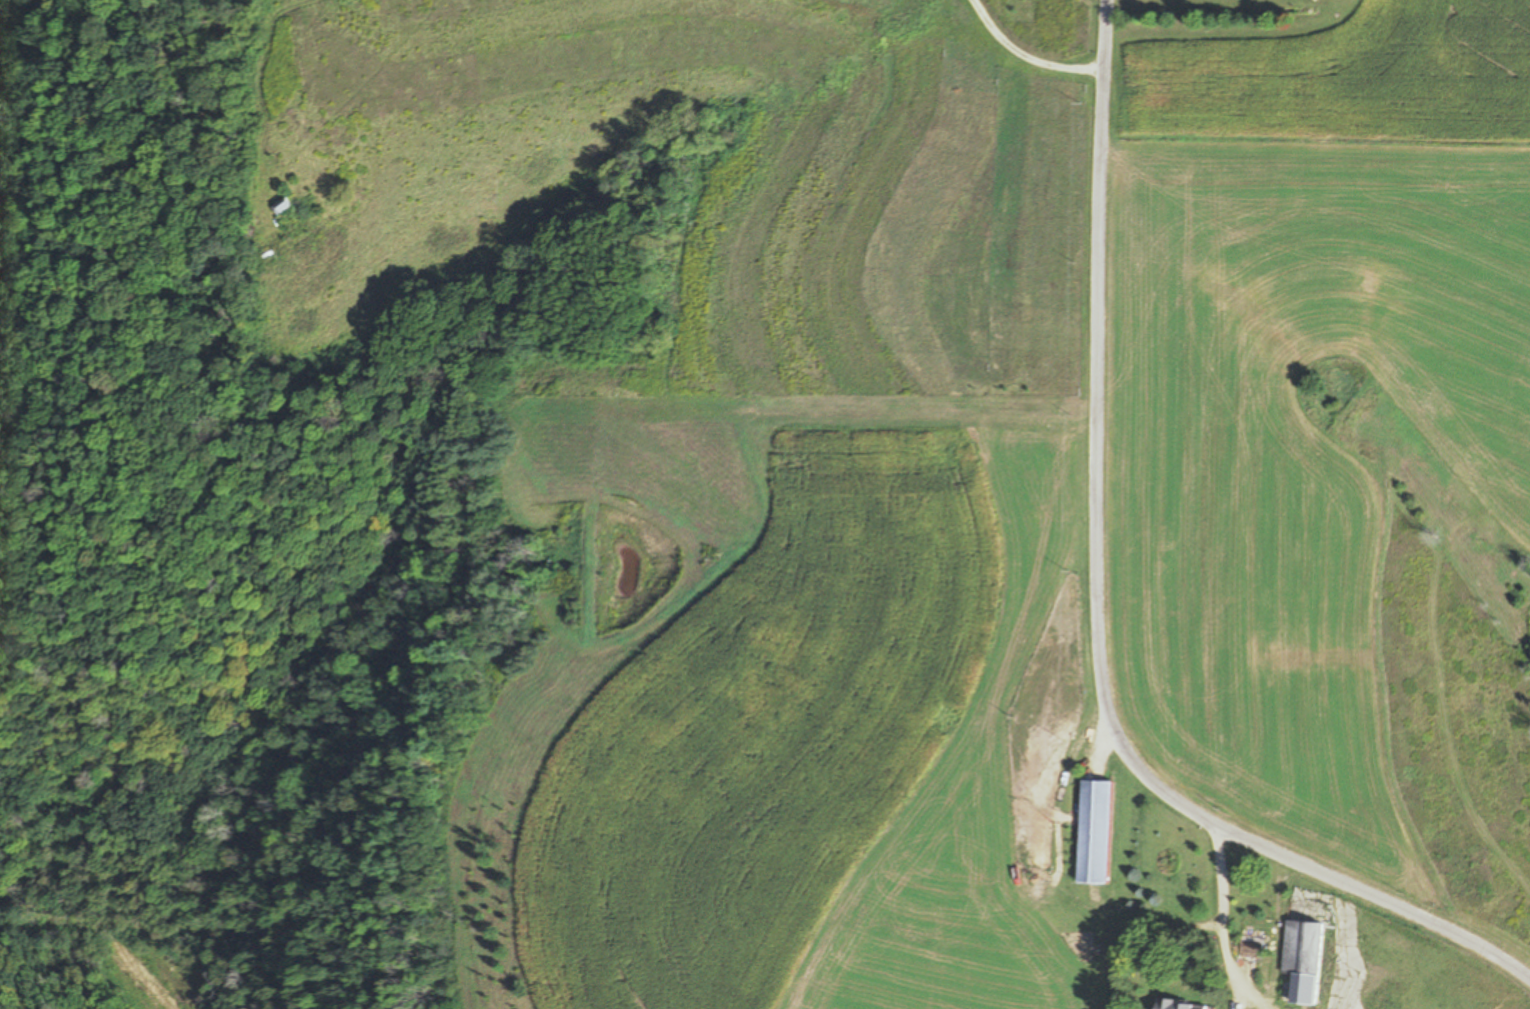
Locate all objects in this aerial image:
road: (1098, 612)
building: (1092, 833)
road: (1221, 923)
building: (1248, 951)
building: (1298, 965)

